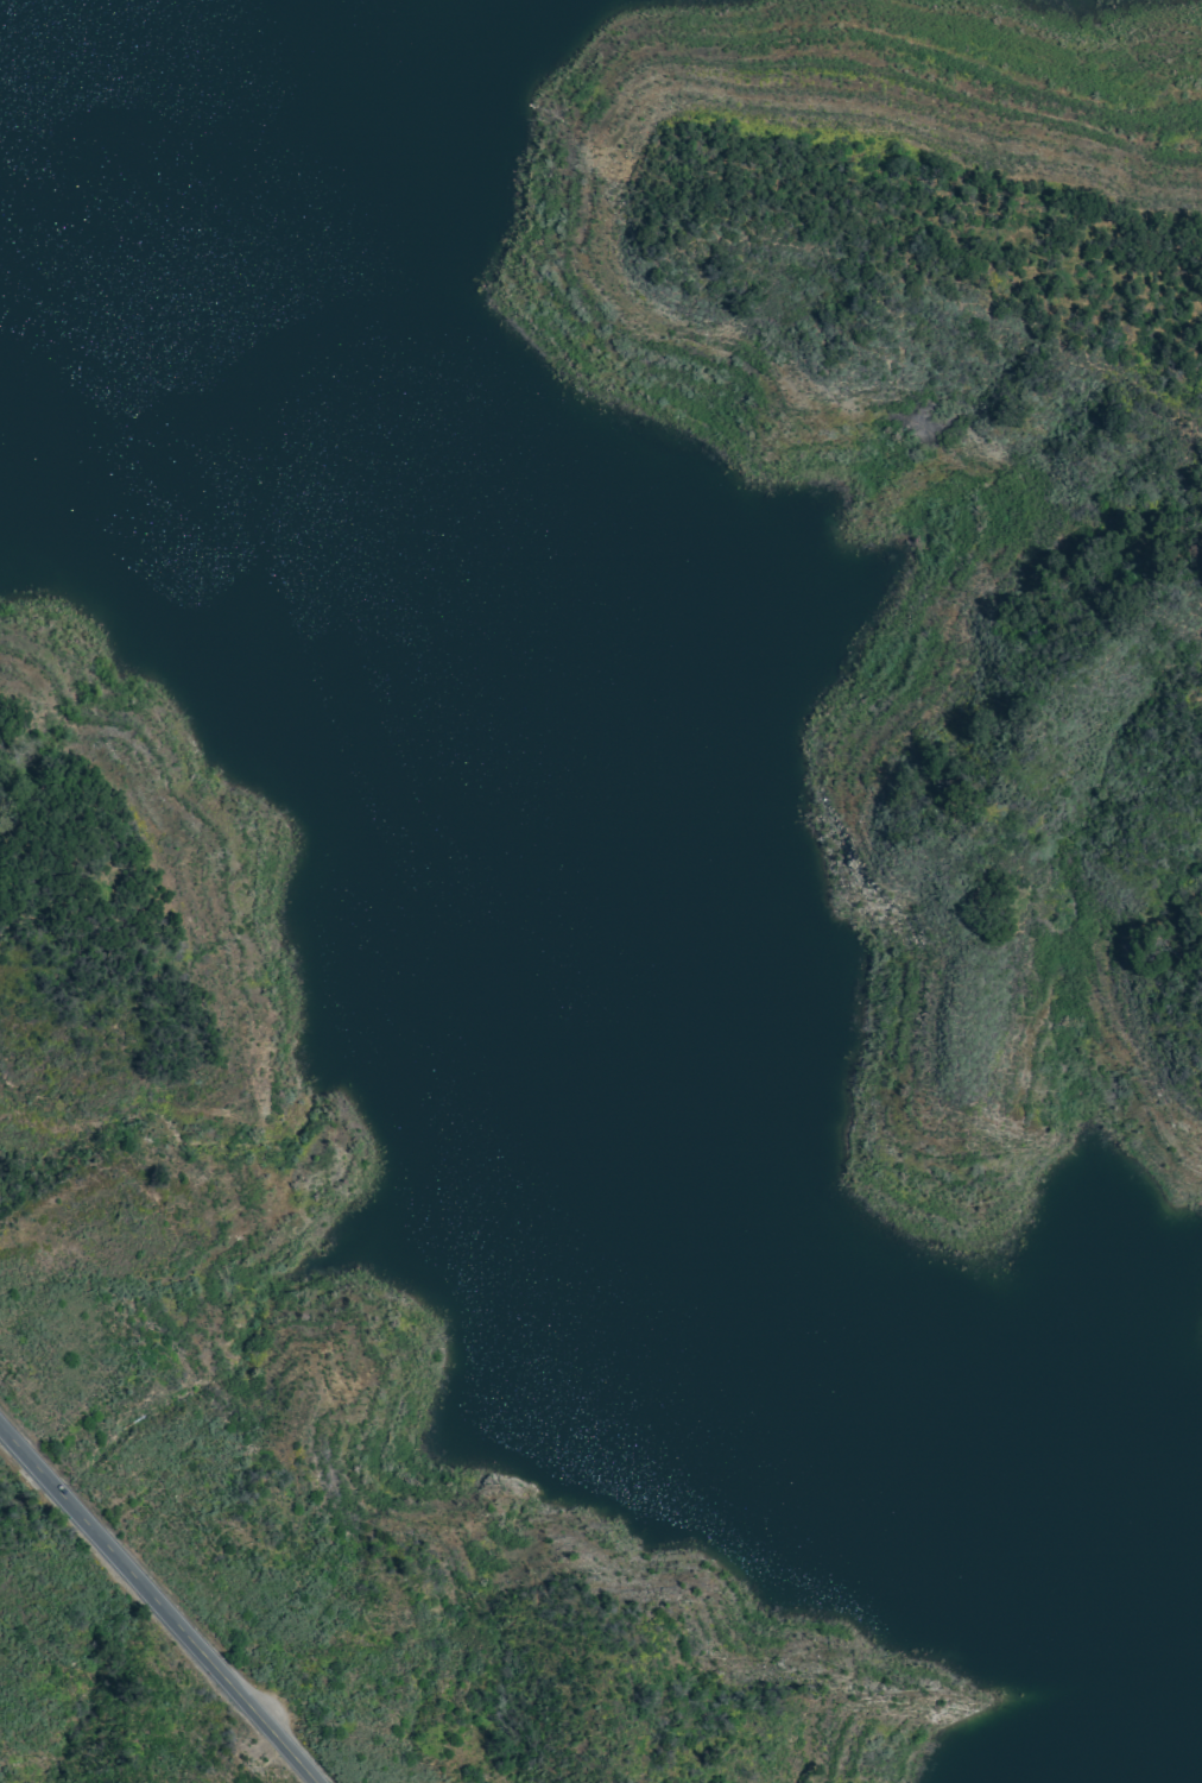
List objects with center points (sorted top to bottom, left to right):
road: (159, 1600)

